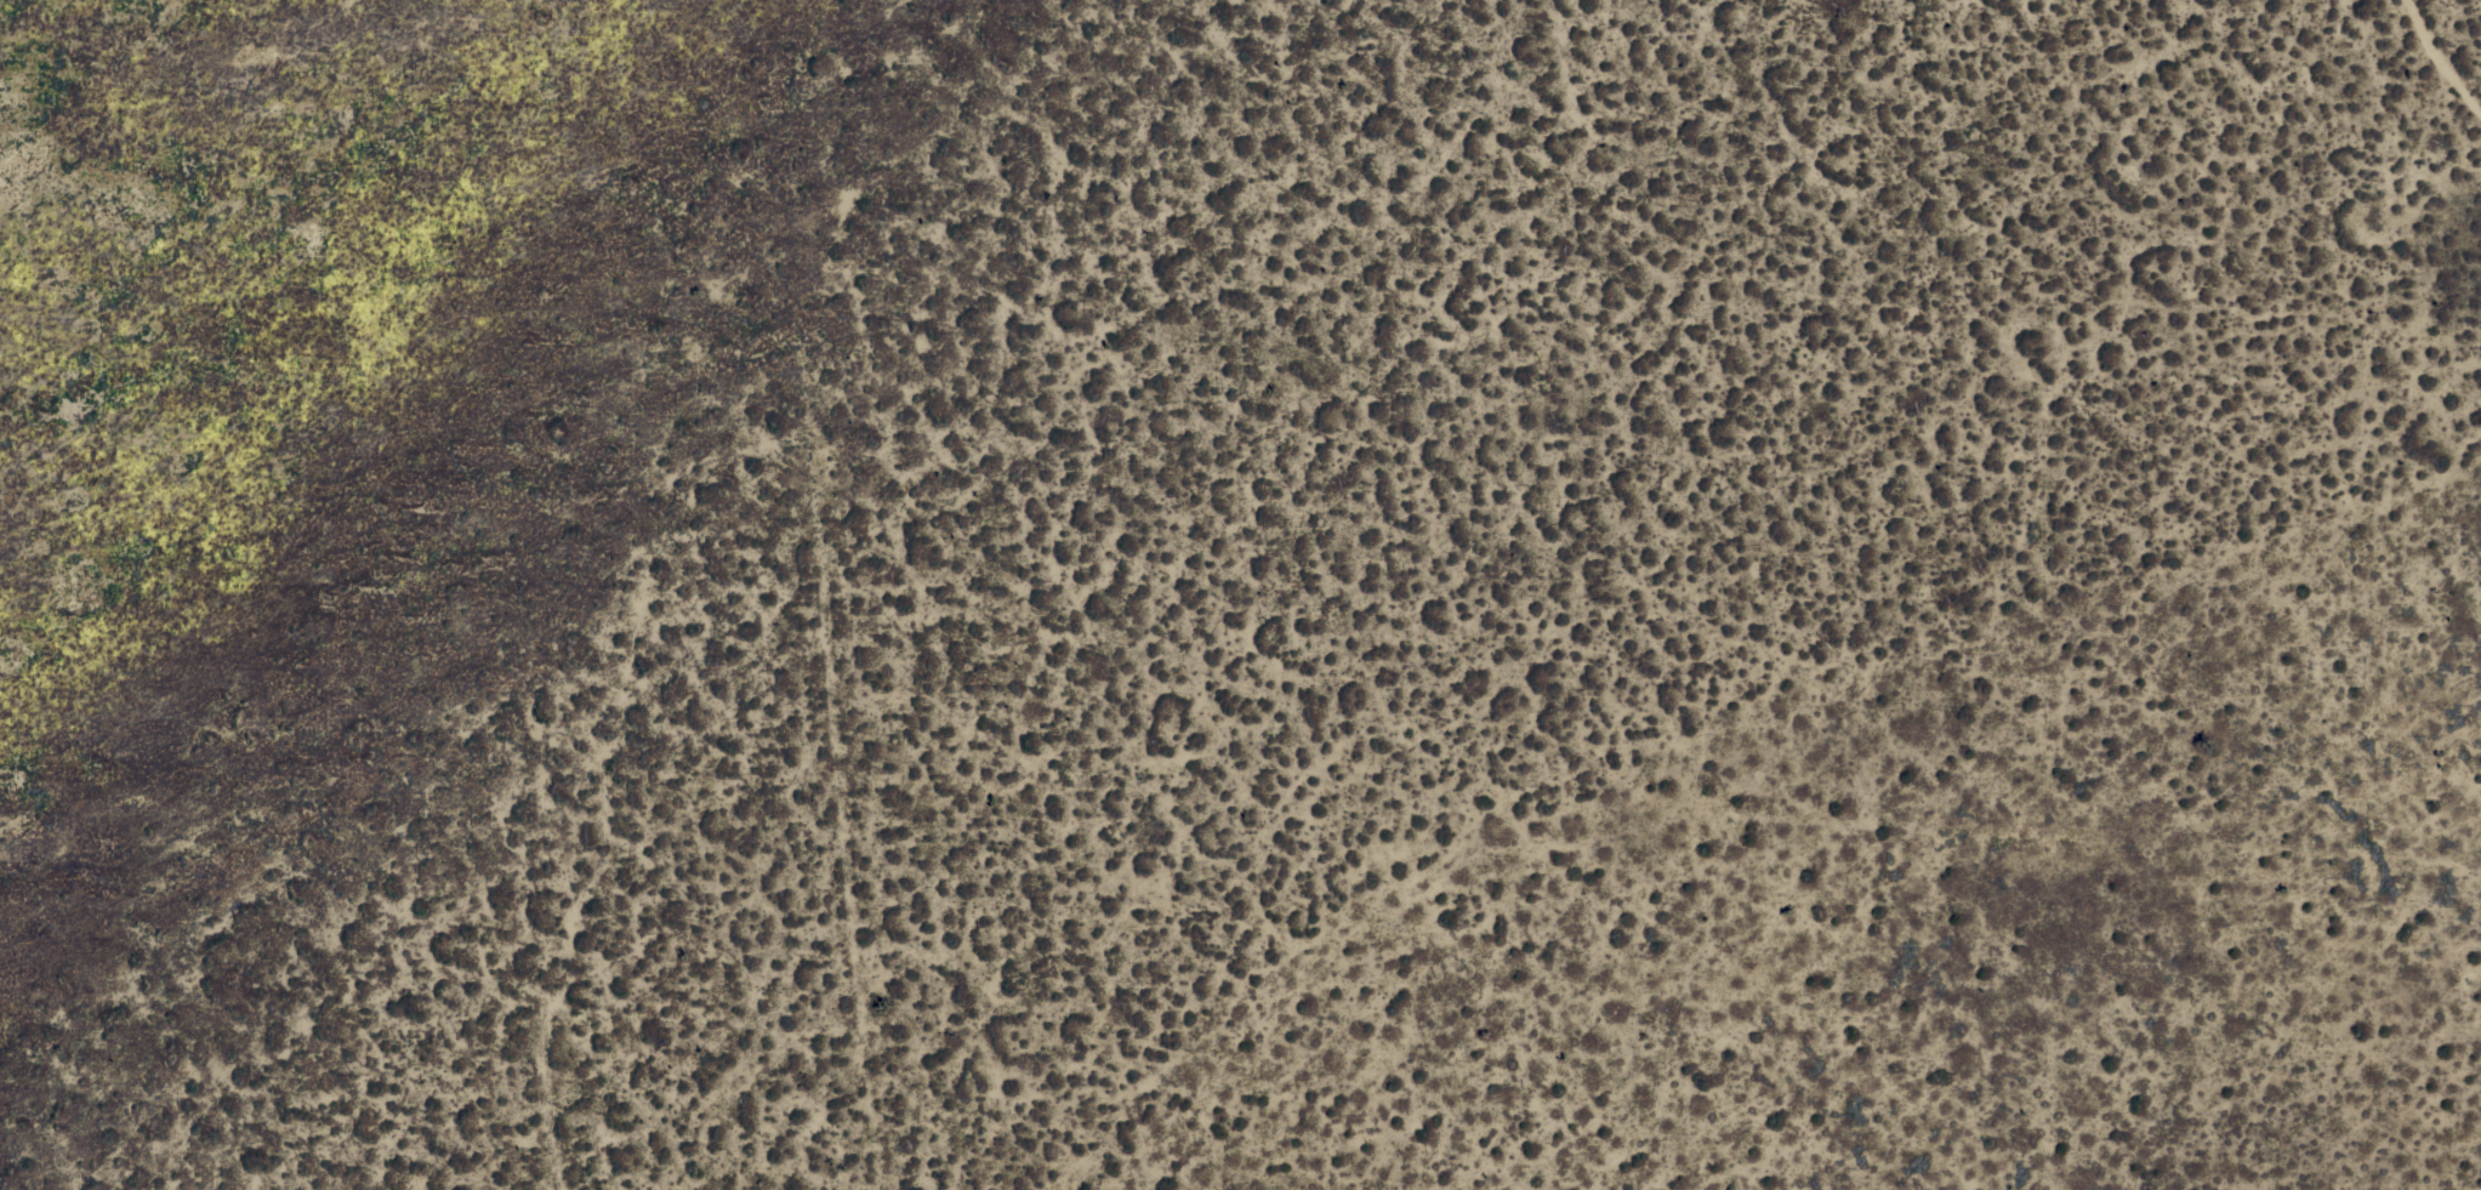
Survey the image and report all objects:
road: (2441, 56)

